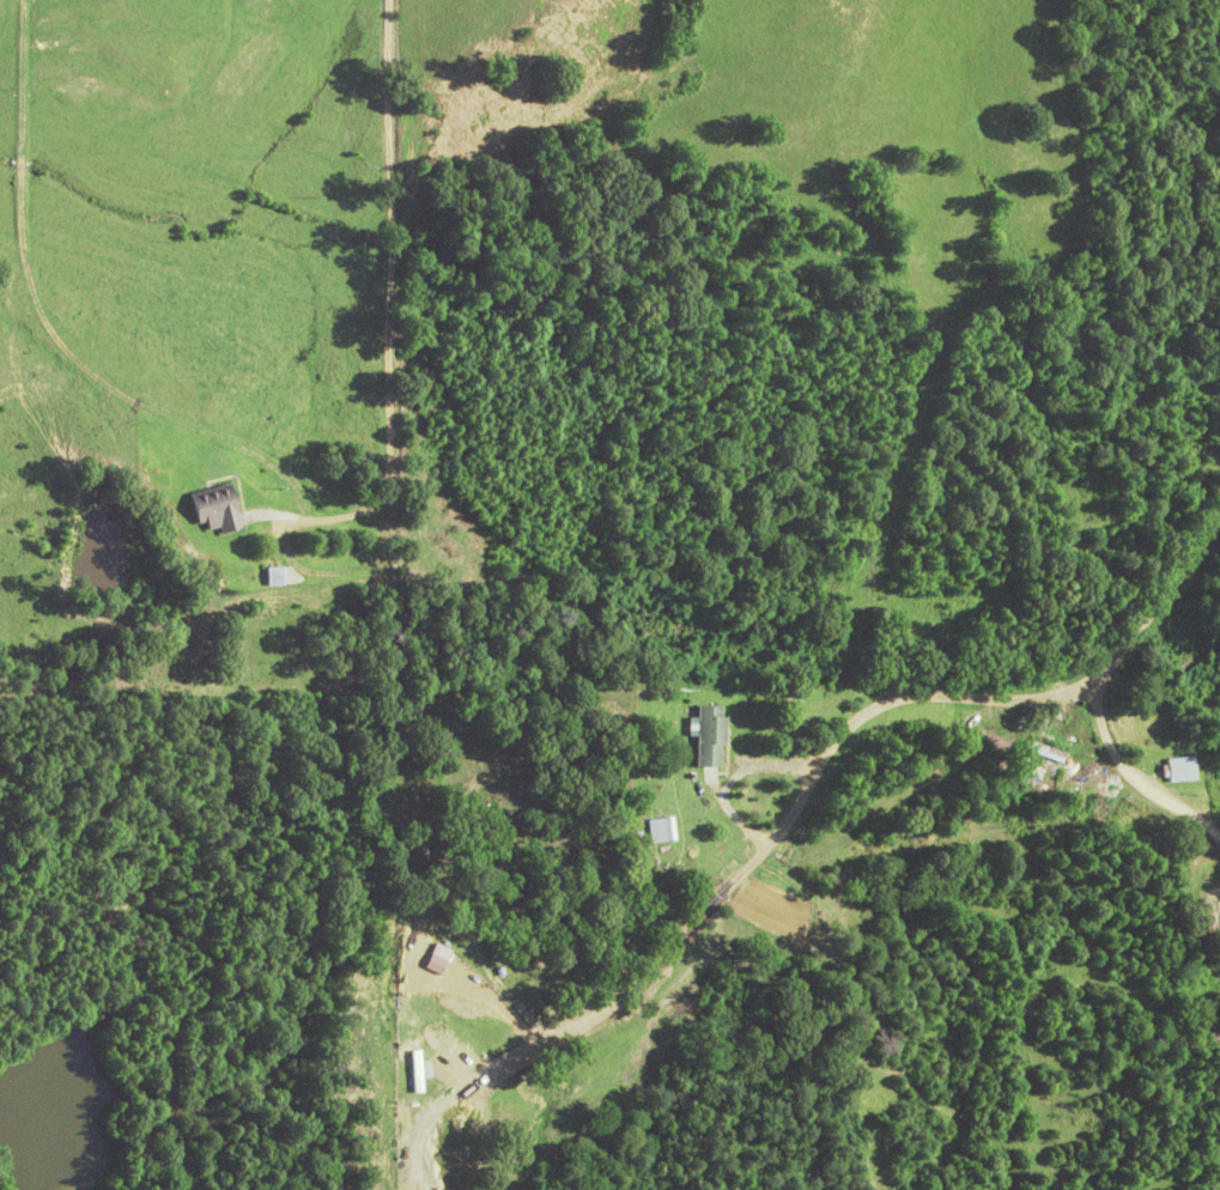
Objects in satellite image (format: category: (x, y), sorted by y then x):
building: (216, 510)
building: (711, 739)
building: (1045, 752)
building: (1179, 771)
road: (757, 776)
road: (1141, 806)
building: (667, 831)
building: (1212, 925)
building: (414, 1074)

